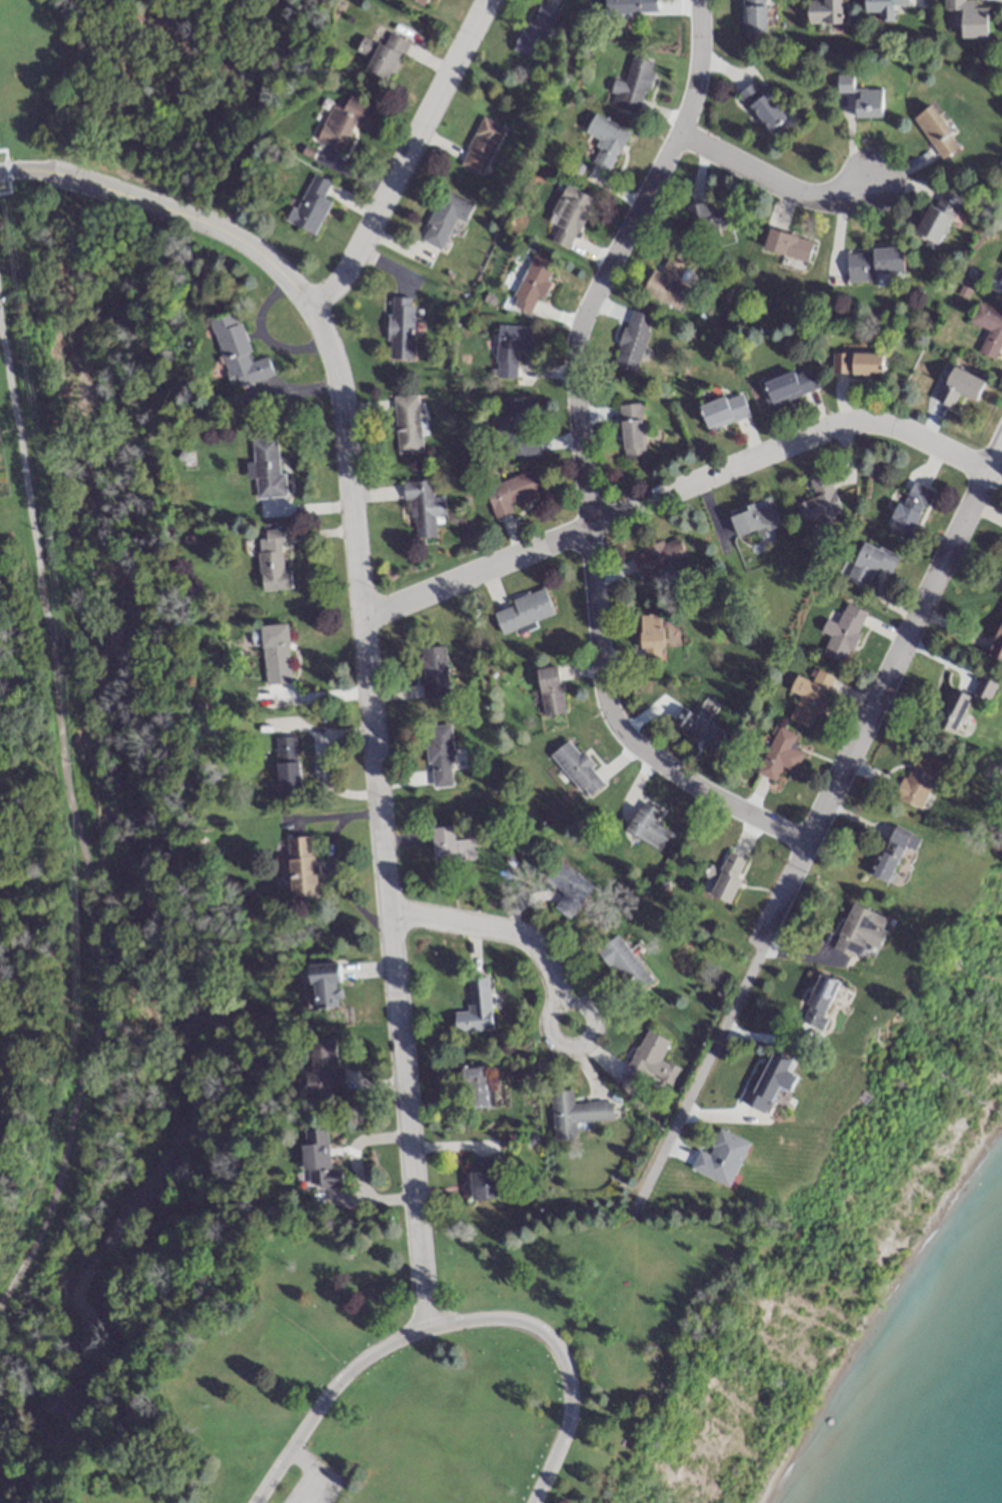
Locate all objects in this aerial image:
building: (423, 1)
building: (630, 7)
building: (884, 8)
building: (824, 12)
building: (970, 18)
building: (755, 20)
building: (536, 30)
building: (387, 56)
building: (845, 84)
building: (632, 86)
building: (868, 104)
building: (761, 105)
building: (346, 121)
building: (936, 132)
building: (606, 141)
building: (481, 146)
road: (407, 158)
road: (771, 175)
building: (310, 204)
building: (569, 215)
building: (445, 217)
building: (709, 218)
building: (938, 218)
building: (788, 245)
building: (876, 264)
building: (667, 283)
building: (532, 284)
building: (400, 327)
building: (989, 328)
road: (261, 335)
building: (632, 340)
building: (511, 348)
building: (238, 352)
building: (857, 364)
building: (788, 386)
building: (961, 386)
building: (724, 411)
building: (407, 424)
building: (518, 426)
building: (631, 432)
road: (583, 461)
building: (266, 470)
road: (676, 490)
building: (514, 492)
building: (819, 502)
building: (423, 507)
building: (910, 510)
building: (754, 520)
park: (141, 526)
building: (659, 558)
building: (273, 563)
building: (871, 564)
building: (522, 612)
building: (843, 633)
road: (364, 635)
building: (651, 640)
building: (997, 648)
building: (276, 654)
building: (432, 672)
building: (985, 690)
building: (550, 691)
road: (317, 697)
building: (810, 697)
building: (959, 715)
building: (701, 727)
building: (780, 755)
building: (439, 756)
building: (287, 766)
building: (575, 770)
building: (920, 779)
road: (815, 821)
road: (74, 825)
park: (27, 828)
building: (649, 830)
building: (450, 846)
building: (895, 854)
building: (301, 865)
building: (729, 878)
building: (572, 900)
road: (493, 925)
building: (861, 930)
building: (624, 966)
building: (327, 983)
building: (820, 997)
building: (476, 1006)
road: (547, 1029)
building: (650, 1059)
building: (325, 1067)
building: (473, 1076)
building: (773, 1077)
building: (575, 1113)
building: (722, 1155)
building: (318, 1160)
building: (483, 1185)
park: (458, 1357)
road: (559, 1360)
road: (326, 1398)
road: (313, 1473)
parking lot: (312, 1485)

